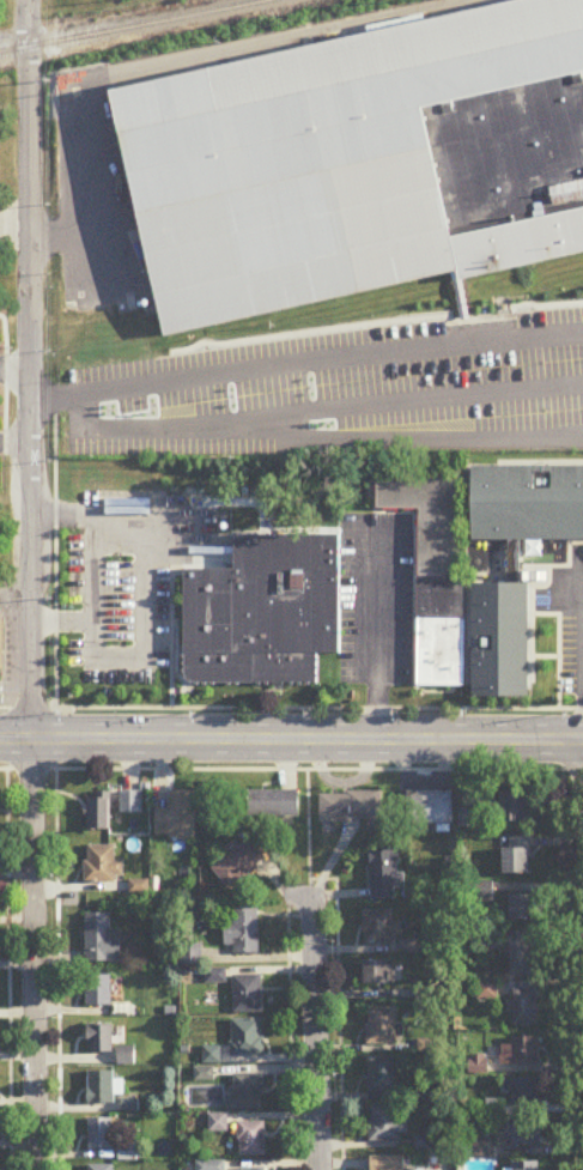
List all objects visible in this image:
railway: (129, 26)
road: (169, 66)
building: (360, 166)
road: (305, 363)
road: (14, 369)
road: (29, 370)
parking lot: (351, 381)
road: (320, 411)
road: (14, 442)
building: (524, 496)
road: (54, 556)
road: (87, 566)
building: (514, 568)
building: (433, 570)
road: (14, 593)
road: (146, 599)
building: (263, 613)
road: (376, 641)
building: (500, 642)
building: (0, 647)
road: (582, 650)
road: (291, 710)
road: (291, 741)
road: (291, 771)
building: (130, 802)
building: (273, 804)
building: (351, 807)
building: (512, 807)
building: (430, 808)
building: (97, 813)
building: (177, 817)
building: (467, 818)
building: (516, 856)
building: (102, 863)
building: (238, 865)
building: (385, 874)
building: (523, 907)
building: (381, 928)
building: (243, 930)
building: (102, 940)
road: (32, 956)
building: (523, 957)
road: (7, 970)
road: (56, 970)
building: (379, 972)
building: (98, 990)
building: (486, 990)
building: (247, 994)
building: (523, 1008)
building: (382, 1027)
road: (316, 1033)
building: (99, 1038)
building: (248, 1038)
building: (521, 1053)
building: (125, 1057)
building: (382, 1075)
building: (101, 1087)
building: (247, 1092)
building: (527, 1092)
building: (385, 1126)
building: (101, 1134)
building: (526, 1135)
building: (251, 1139)
building: (388, 1163)
building: (526, 1166)
building: (101, 1168)
building: (250, 1169)

